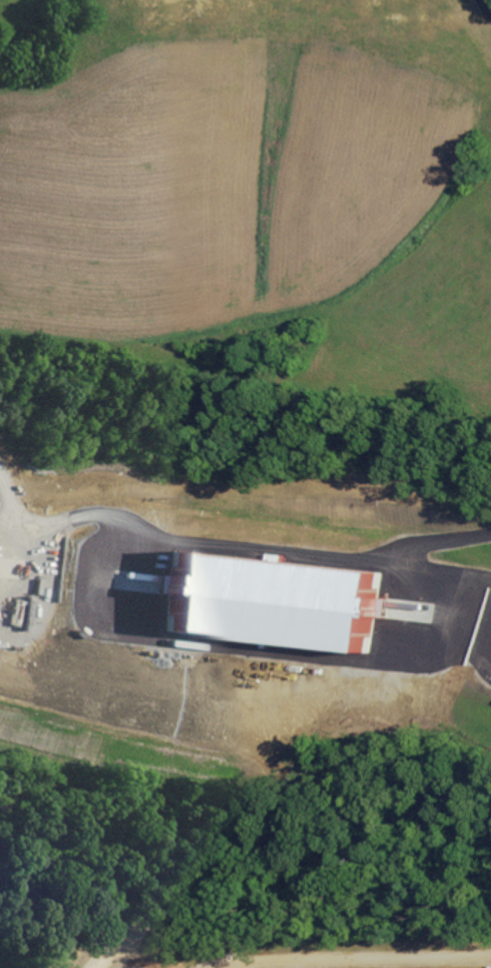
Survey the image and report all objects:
building: (85, 227)
road: (11, 499)
road: (438, 541)
road: (254, 548)
building: (273, 601)
road: (288, 948)
road: (90, 967)

